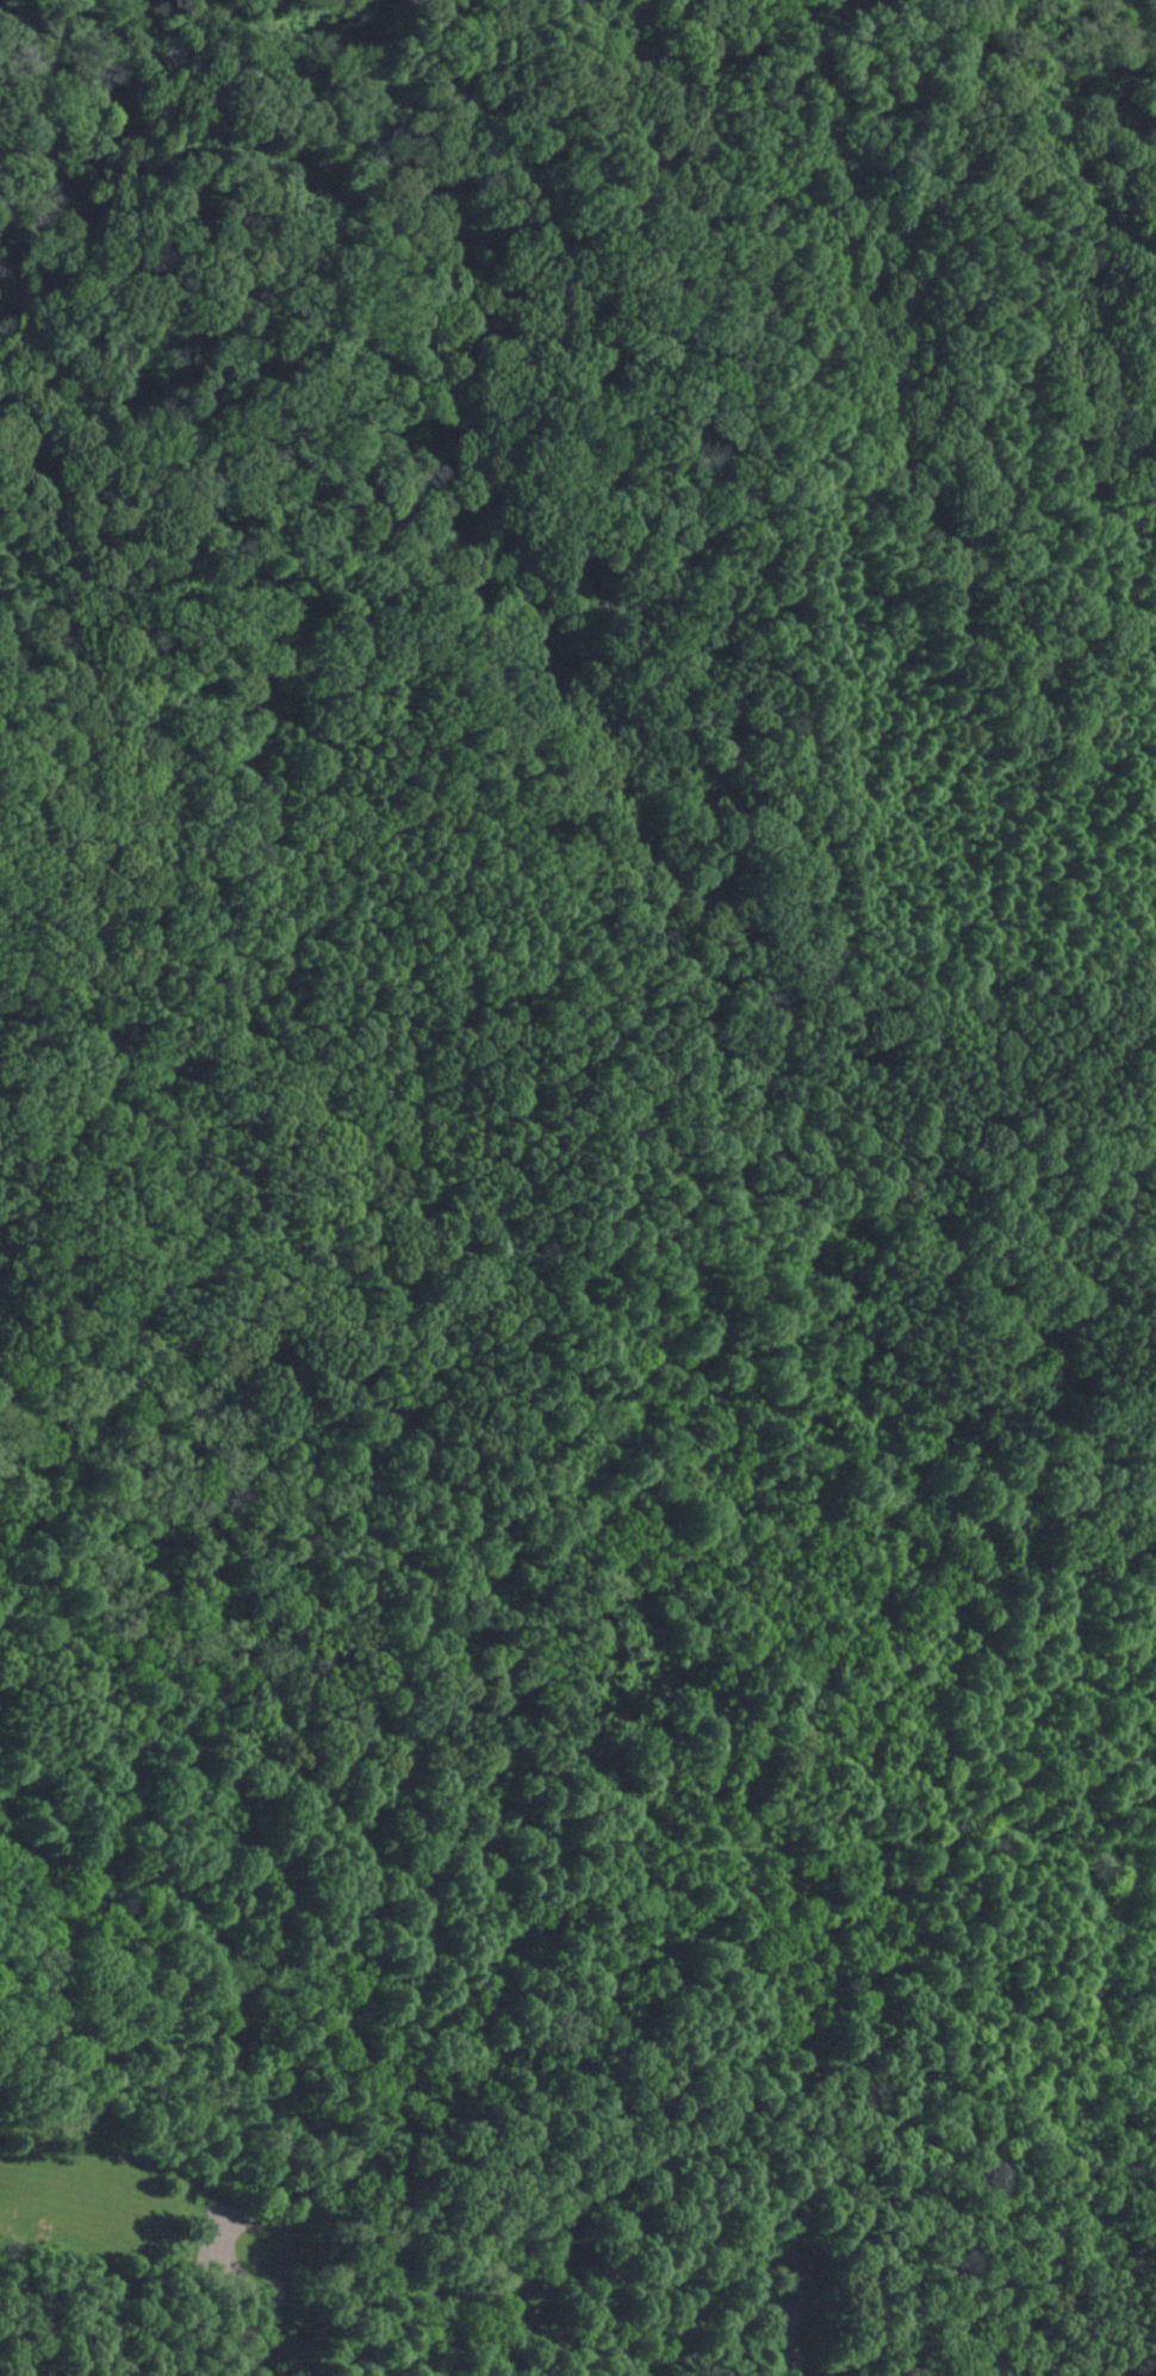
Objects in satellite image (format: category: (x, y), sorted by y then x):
road: (939, 1840)
road: (997, 1936)
road: (242, 2220)
parking lot: (219, 2241)
road: (772, 2251)
road: (1057, 2327)
road: (273, 2337)
road: (793, 2346)

